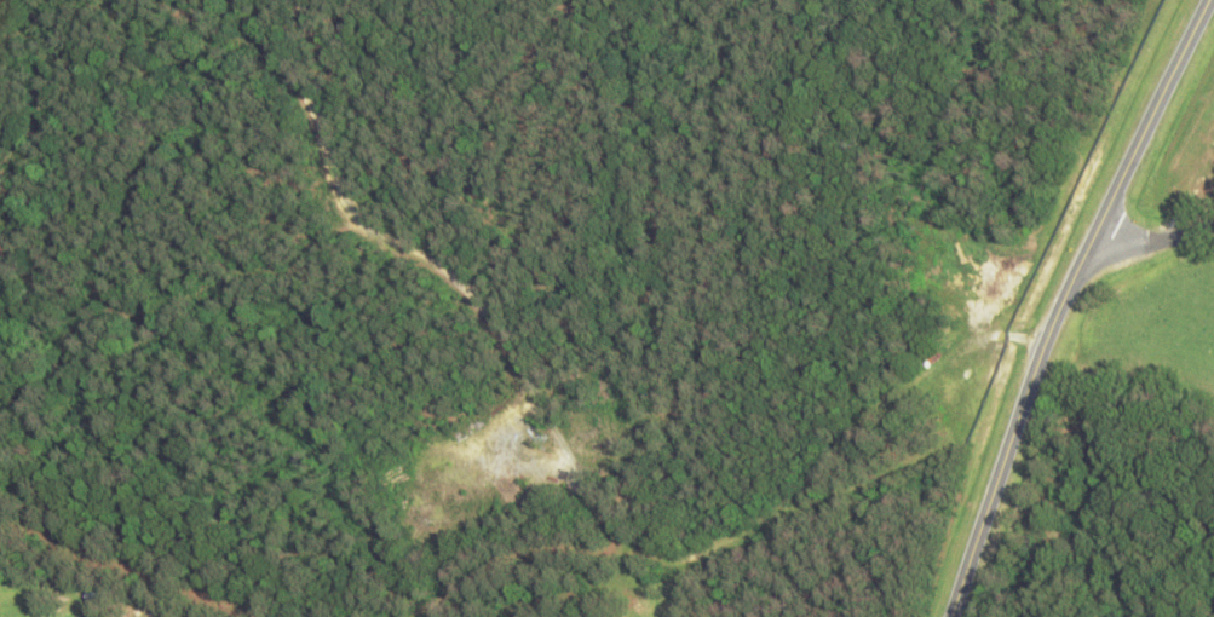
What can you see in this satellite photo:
road: (1151, 242)
road: (1057, 300)

